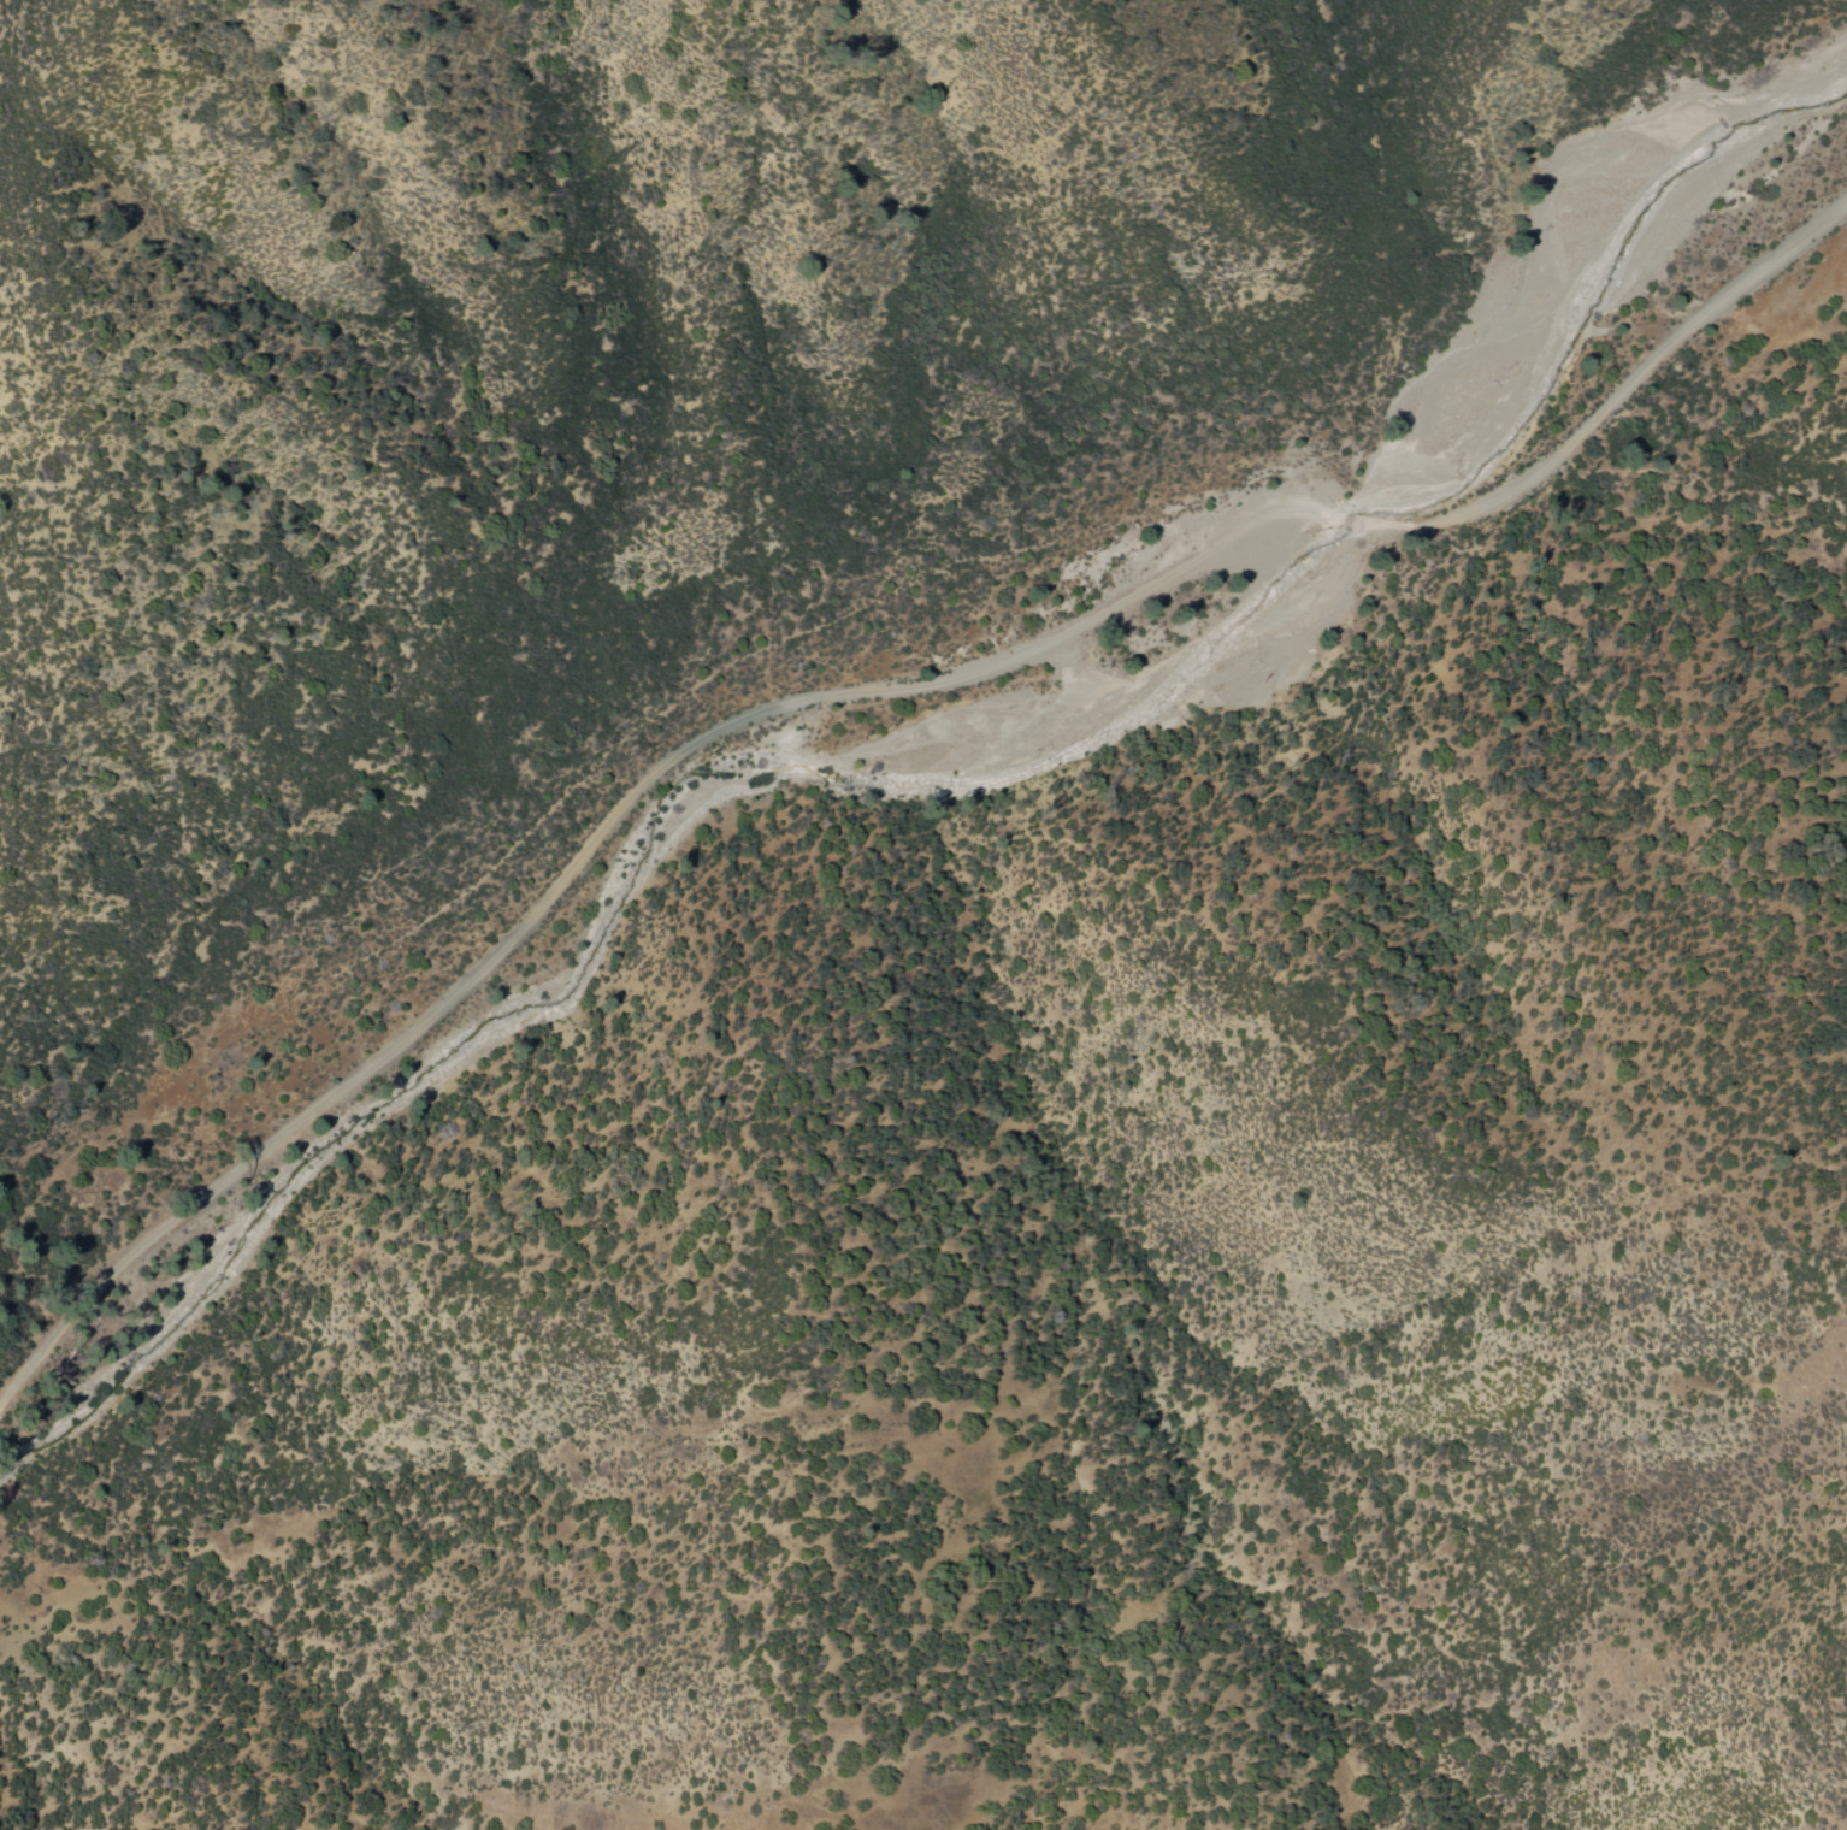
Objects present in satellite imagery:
road: (877, 740)

